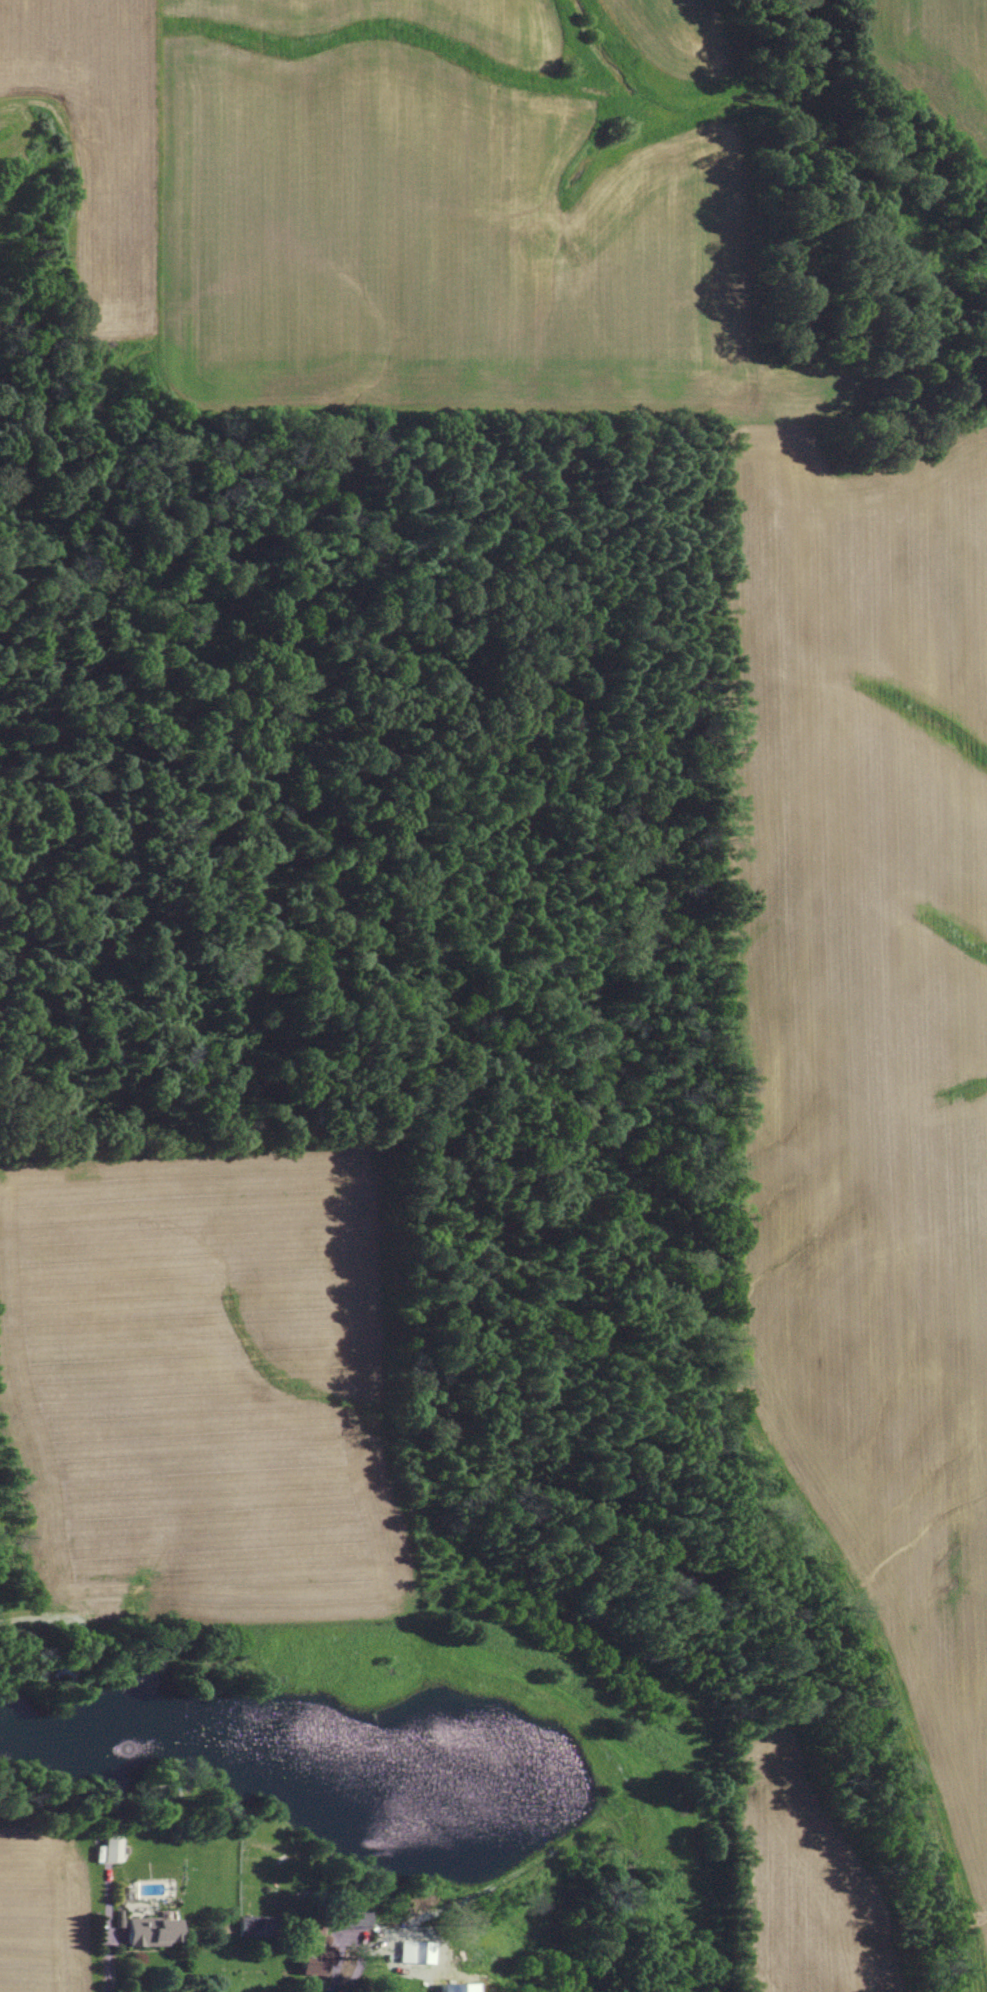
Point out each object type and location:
road: (38, 1622)
building: (111, 1859)
building: (123, 1860)
building: (357, 1921)
building: (254, 1927)
building: (351, 1930)
building: (151, 1942)
road: (106, 1950)
building: (310, 1960)
building: (413, 1962)
road: (334, 1976)
building: (458, 1988)

